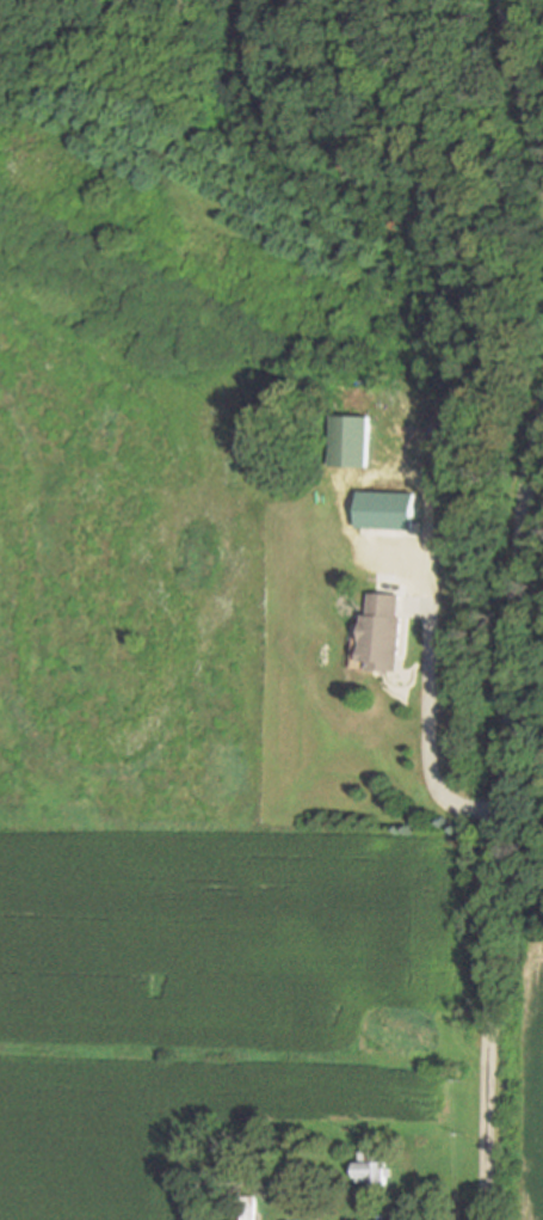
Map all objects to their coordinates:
road: (520, 85)
building: (350, 441)
road: (364, 472)
building: (288, 491)
building: (384, 510)
building: (381, 637)
road: (426, 732)
road: (500, 815)
building: (303, 1151)
building: (372, 1172)
building: (280, 1188)
building: (246, 1208)

